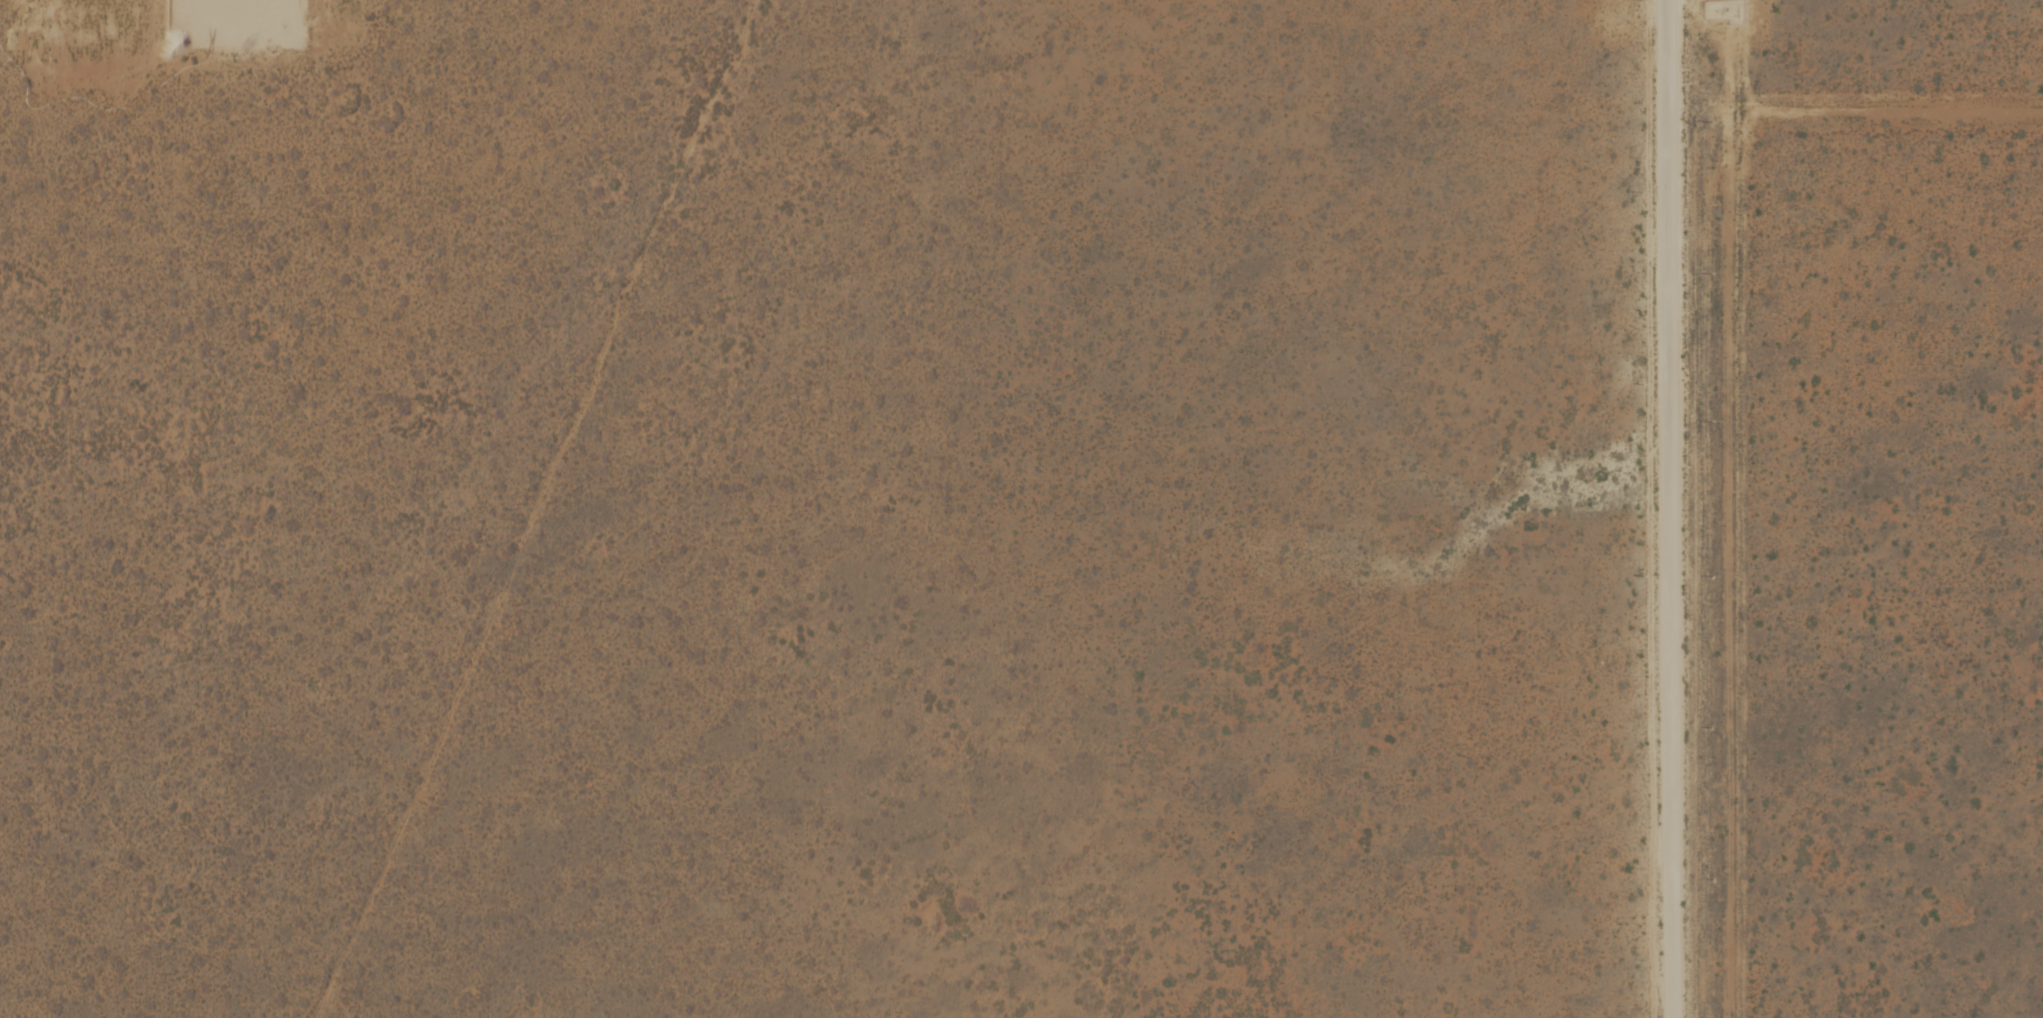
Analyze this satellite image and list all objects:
road: (1668, 509)

